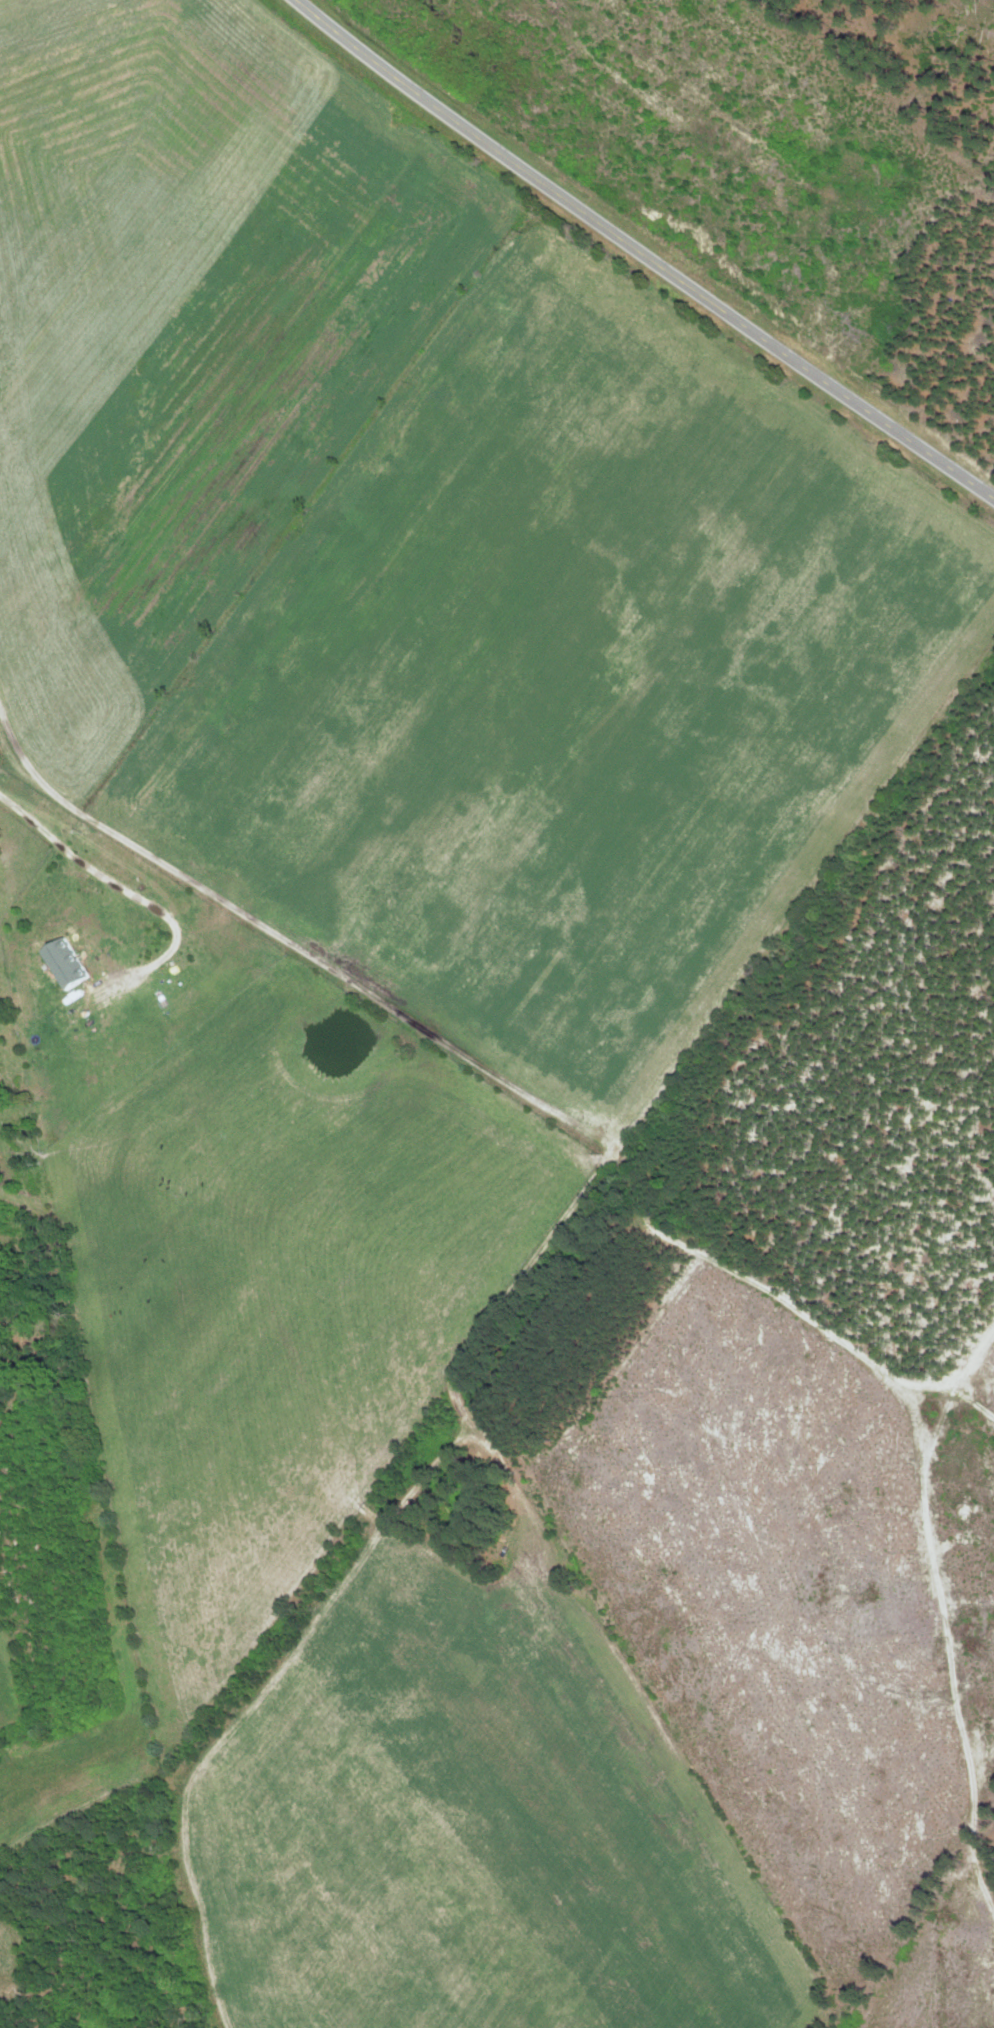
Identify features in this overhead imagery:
road: (641, 251)
building: (67, 962)

